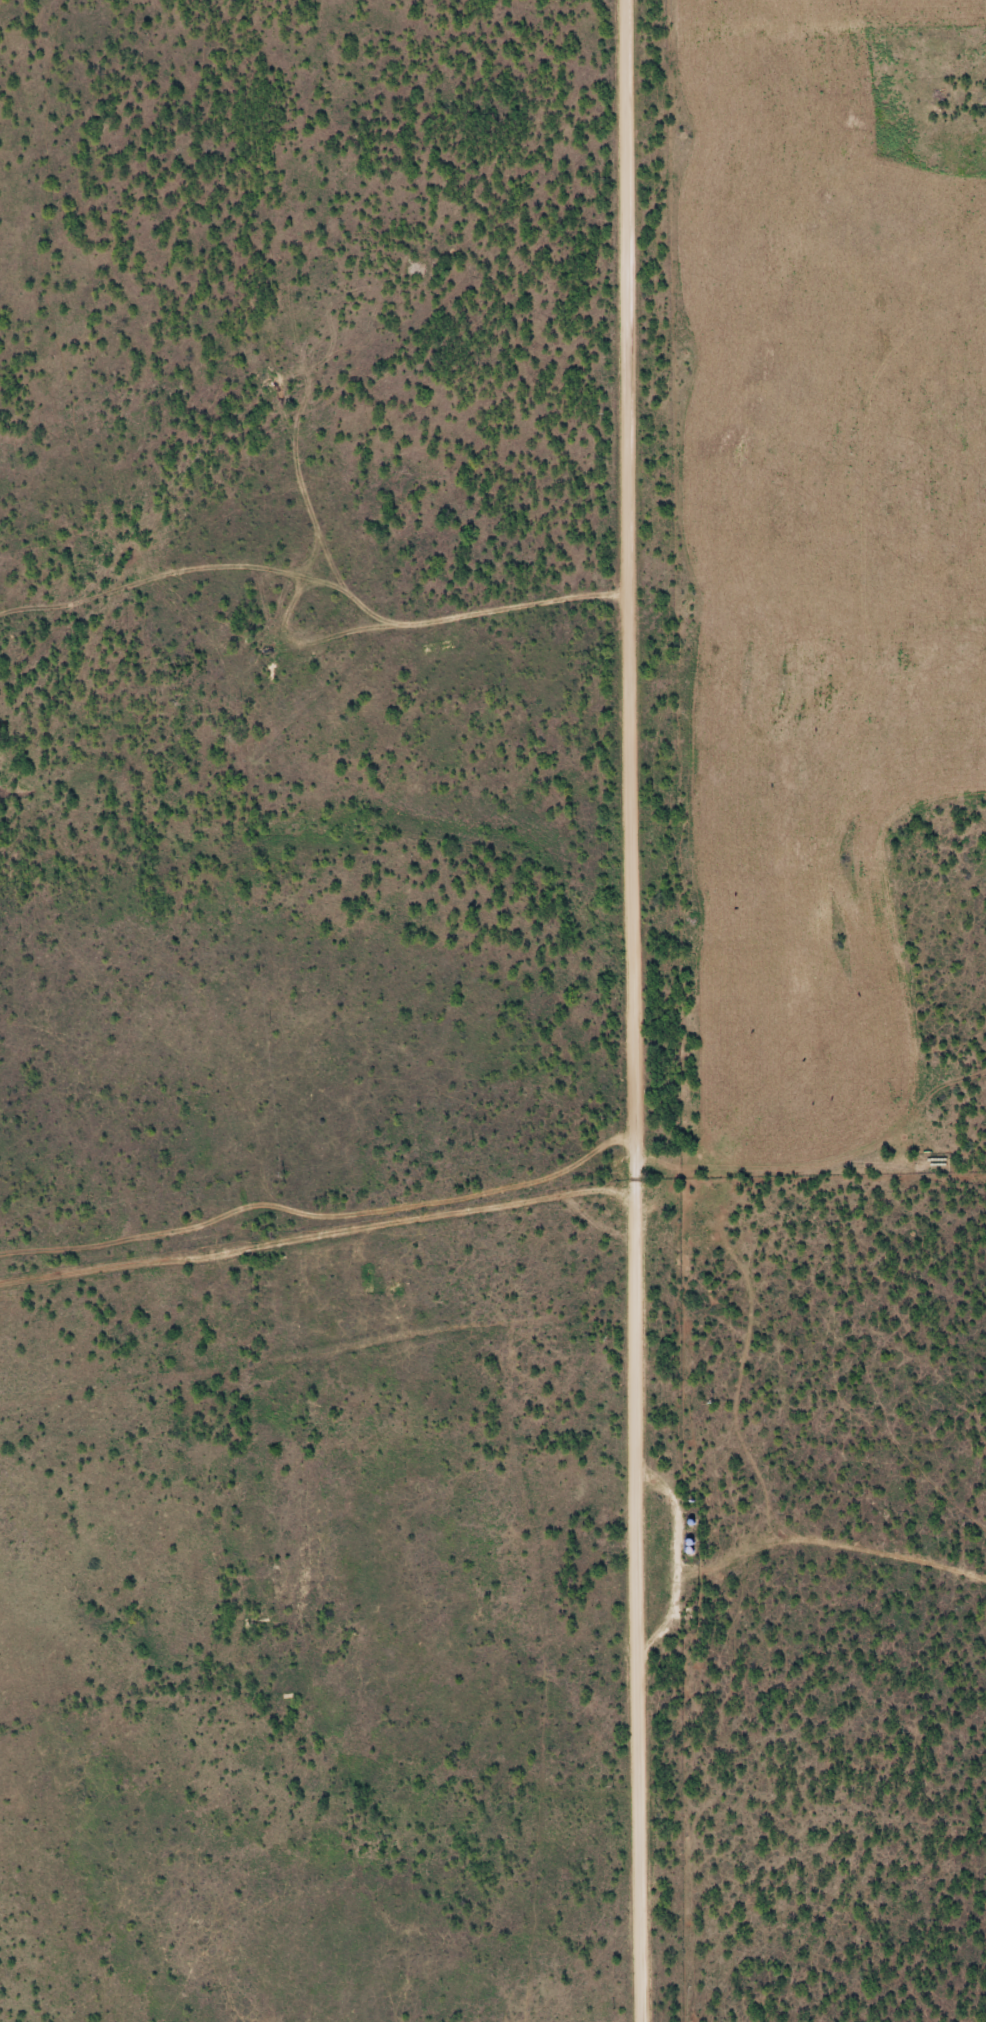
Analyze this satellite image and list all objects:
road: (623, 1011)
road: (265, 1236)

